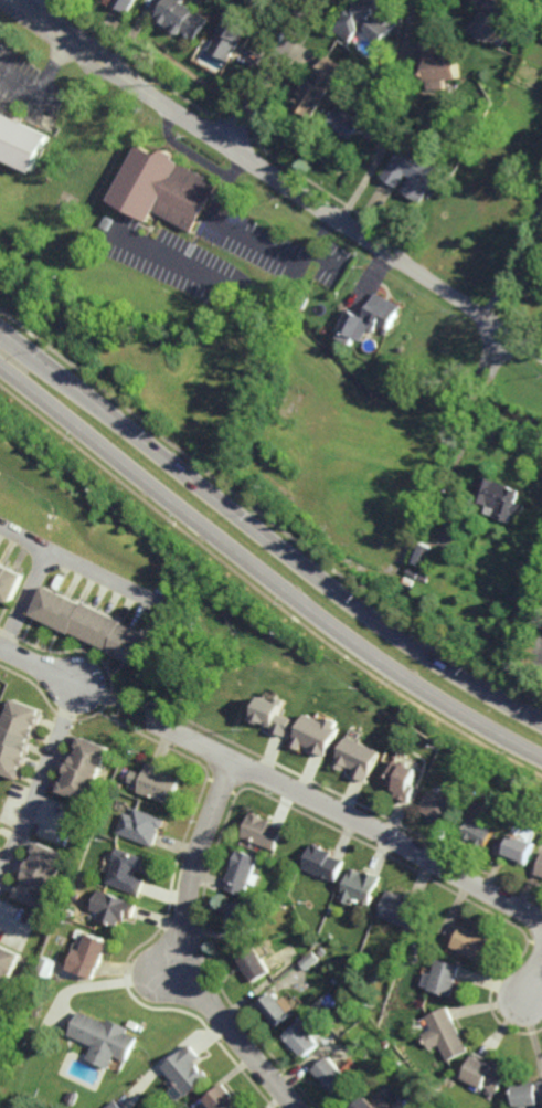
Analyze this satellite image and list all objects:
building: (126, 4)
building: (180, 19)
building: (492, 20)
building: (366, 21)
building: (231, 34)
building: (438, 66)
road: (269, 74)
building: (317, 89)
building: (355, 126)
building: (22, 145)
building: (413, 175)
road: (274, 178)
building: (164, 191)
building: (108, 224)
road: (518, 265)
building: (304, 300)
building: (371, 315)
road: (490, 360)
building: (274, 380)
road: (471, 401)
road: (454, 441)
building: (499, 497)
road: (263, 536)
building: (370, 547)
building: (424, 553)
road: (263, 572)
road: (39, 574)
building: (423, 577)
road: (104, 579)
building: (9, 584)
building: (91, 625)
road: (39, 662)
building: (273, 716)
building: (317, 734)
building: (18, 738)
building: (359, 758)
building: (84, 770)
building: (404, 780)
road: (40, 781)
building: (157, 784)
building: (116, 785)
building: (471, 798)
building: (438, 805)
road: (347, 814)
building: (0, 826)
building: (138, 827)
building: (261, 832)
building: (479, 833)
building: (516, 850)
building: (323, 863)
building: (540, 870)
building: (125, 873)
building: (240, 873)
building: (41, 876)
building: (360, 887)
building: (401, 908)
building: (111, 909)
building: (72, 914)
building: (240, 917)
building: (471, 945)
building: (415, 948)
road: (188, 949)
building: (321, 951)
building: (88, 958)
building: (309, 961)
building: (252, 965)
building: (49, 971)
building: (8, 972)
building: (60, 979)
building: (443, 979)
road: (534, 982)
building: (35, 1011)
building: (275, 1012)
building: (445, 1035)
building: (106, 1040)
building: (302, 1042)
building: (187, 1070)
building: (332, 1072)
building: (485, 1072)
building: (3, 1093)
building: (527, 1093)
building: (74, 1097)
building: (222, 1097)
building: (364, 1102)
building: (117, 1105)

